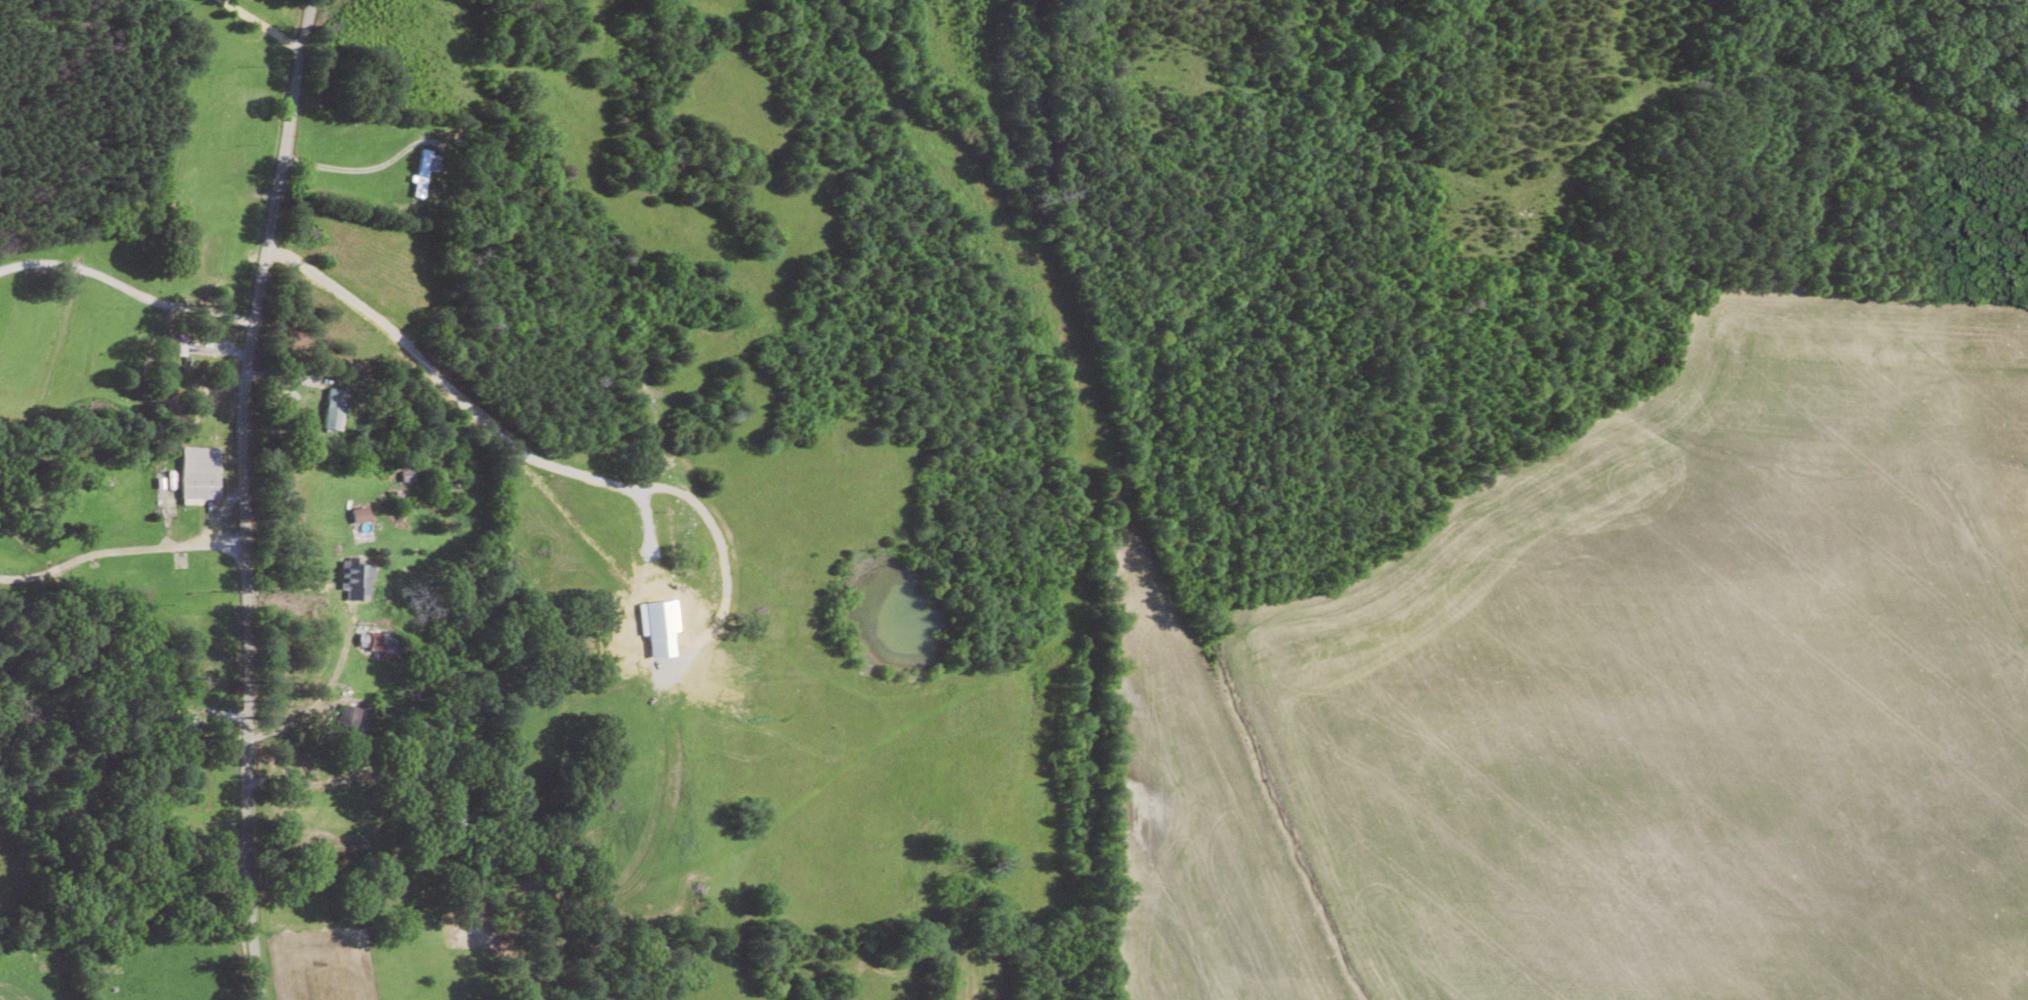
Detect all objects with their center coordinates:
road: (272, 27)
building: (429, 170)
road: (125, 287)
building: (334, 409)
building: (199, 472)
building: (406, 473)
road: (243, 495)
building: (360, 514)
building: (357, 581)
building: (198, 631)
building: (382, 642)
building: (188, 741)

